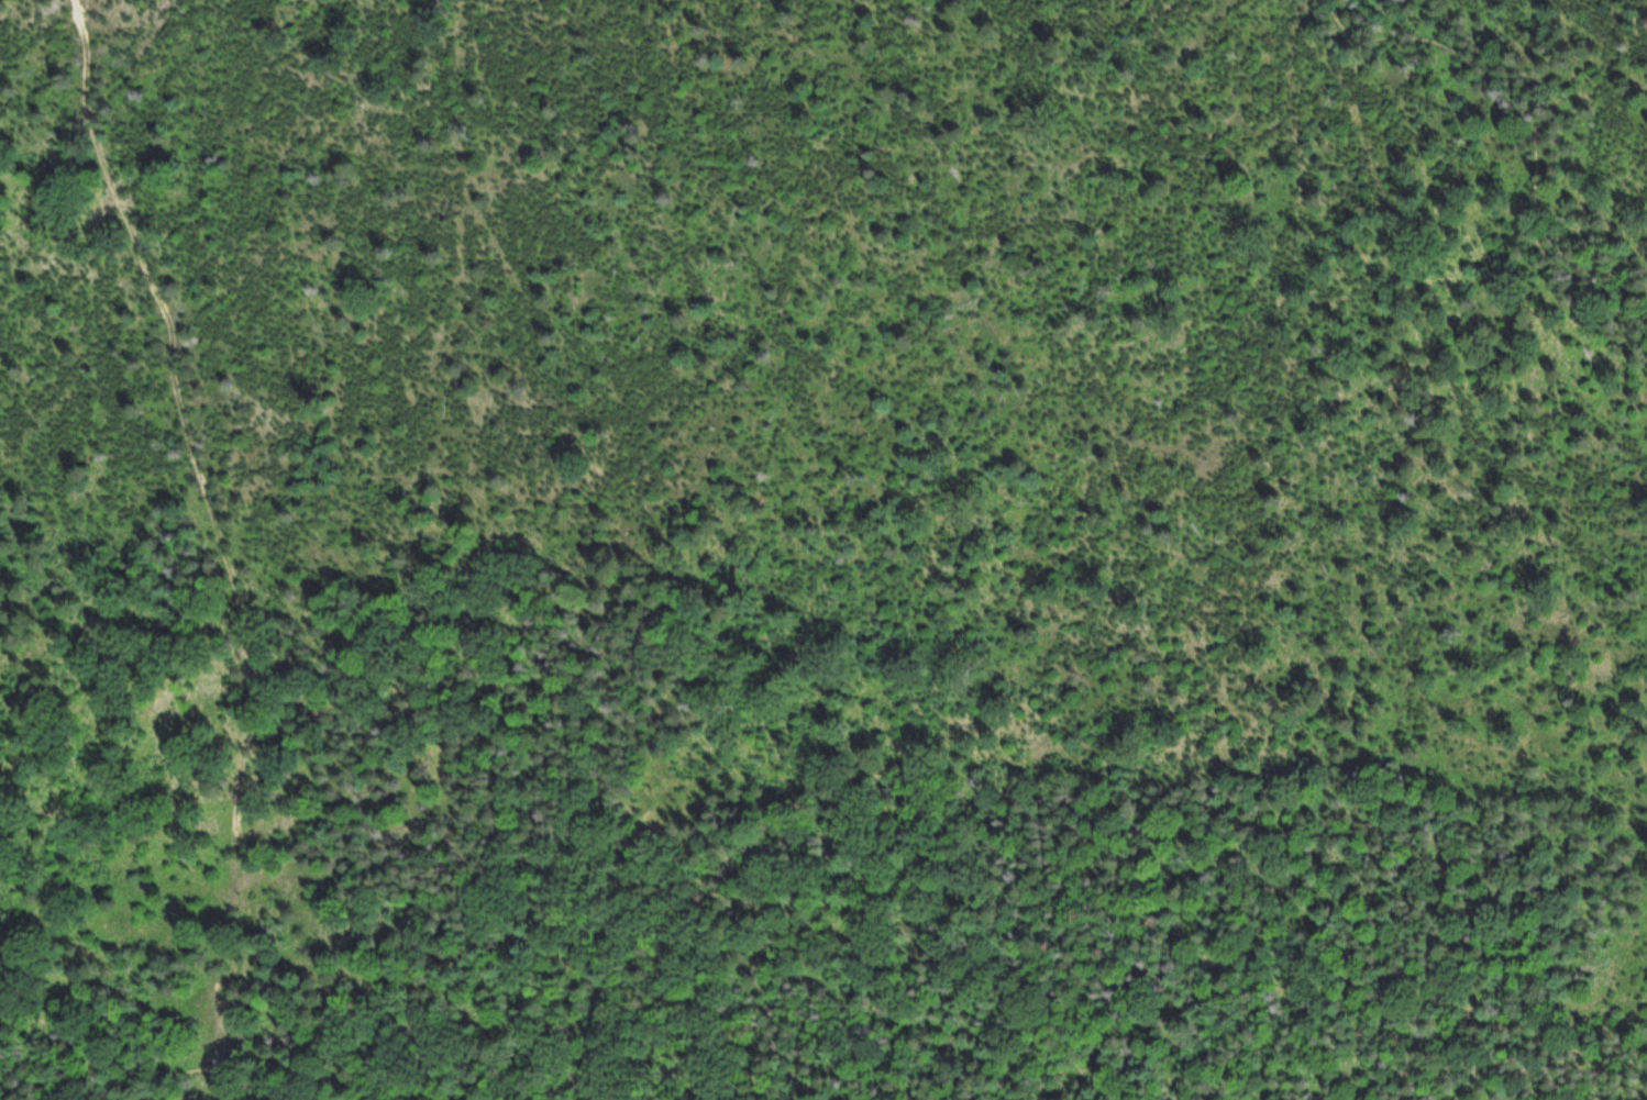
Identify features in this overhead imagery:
road: (1537, 115)
road: (218, 530)
road: (98, 1056)
road: (1415, 1059)
road: (251, 1086)

